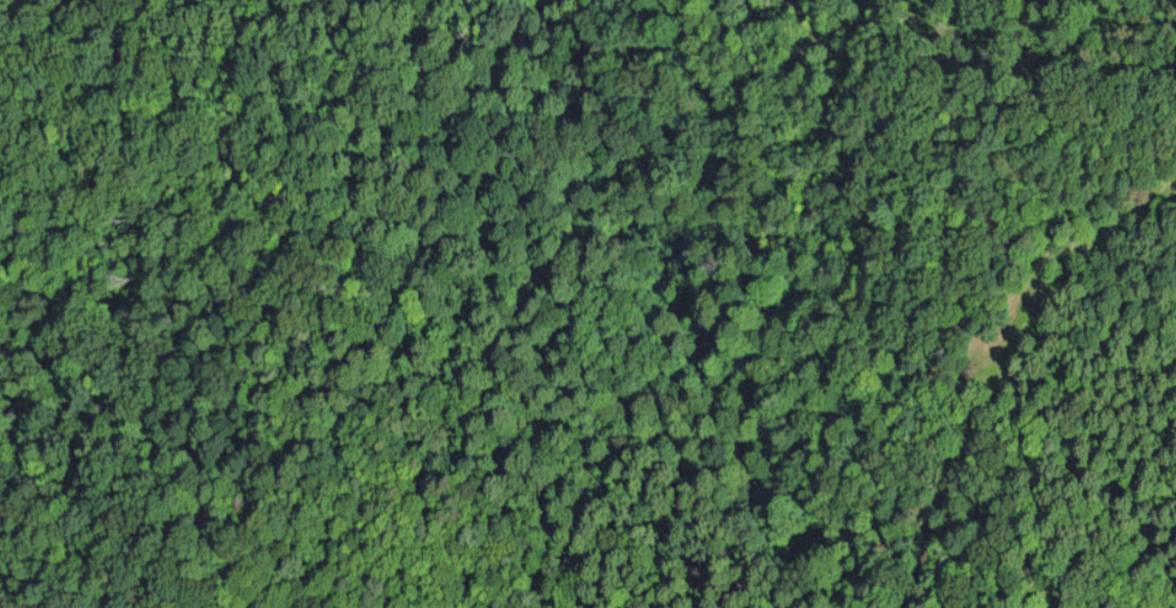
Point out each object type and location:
road: (1027, 405)

